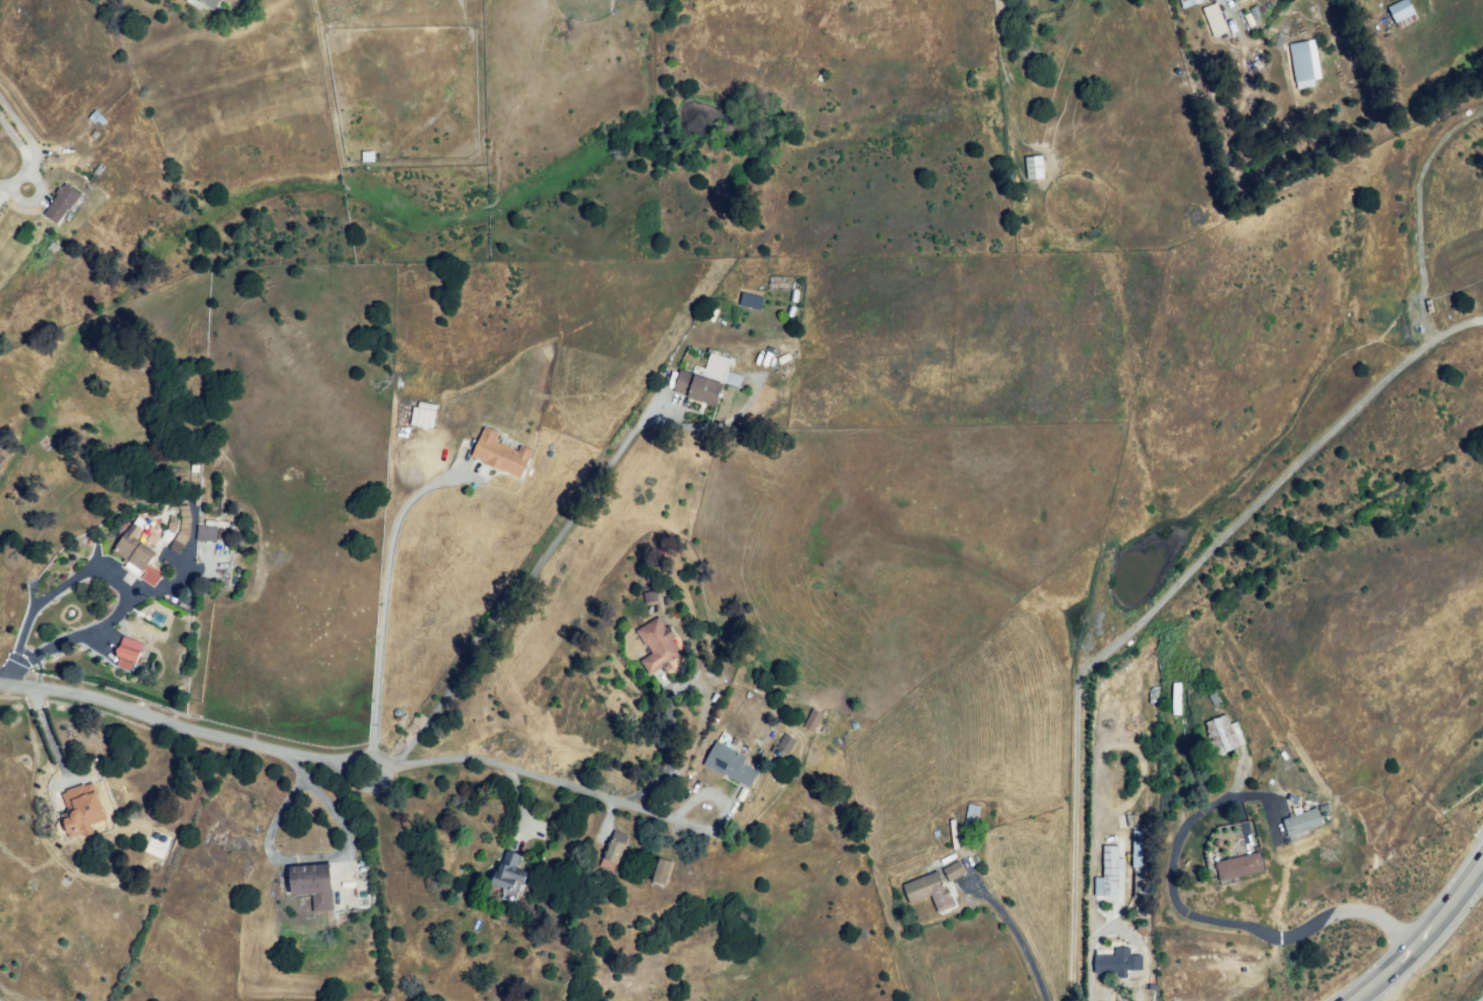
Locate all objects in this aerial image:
building: (1184, 1)
building: (1237, 2)
building: (206, 3)
building: (1399, 14)
building: (1213, 19)
building: (1300, 62)
road: (31, 148)
building: (1033, 170)
building: (60, 208)
building: (1, 216)
building: (749, 301)
building: (697, 388)
building: (512, 395)
building: (501, 457)
building: (205, 533)
building: (130, 549)
road: (110, 565)
road: (524, 584)
road: (1158, 601)
road: (383, 605)
building: (658, 650)
building: (128, 655)
building: (1129, 667)
building: (1174, 698)
building: (1154, 705)
building: (812, 724)
building: (1223, 734)
building: (785, 748)
road: (668, 758)
building: (732, 766)
road: (340, 770)
road: (718, 805)
building: (78, 813)
building: (970, 814)
building: (1300, 821)
building: (612, 854)
building: (1136, 854)
building: (1240, 871)
building: (506, 872)
building: (1105, 872)
building: (661, 875)
building: (309, 884)
building: (935, 888)
road: (1215, 919)
road: (1421, 936)
road: (1015, 937)
building: (1115, 966)
building: (1201, 1000)

